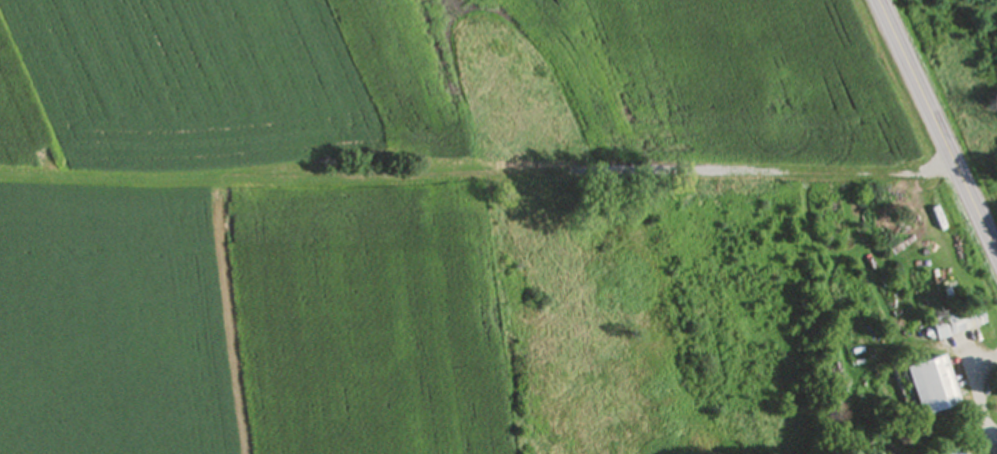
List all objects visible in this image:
road: (939, 120)
building: (958, 324)
building: (932, 387)
road: (973, 391)

